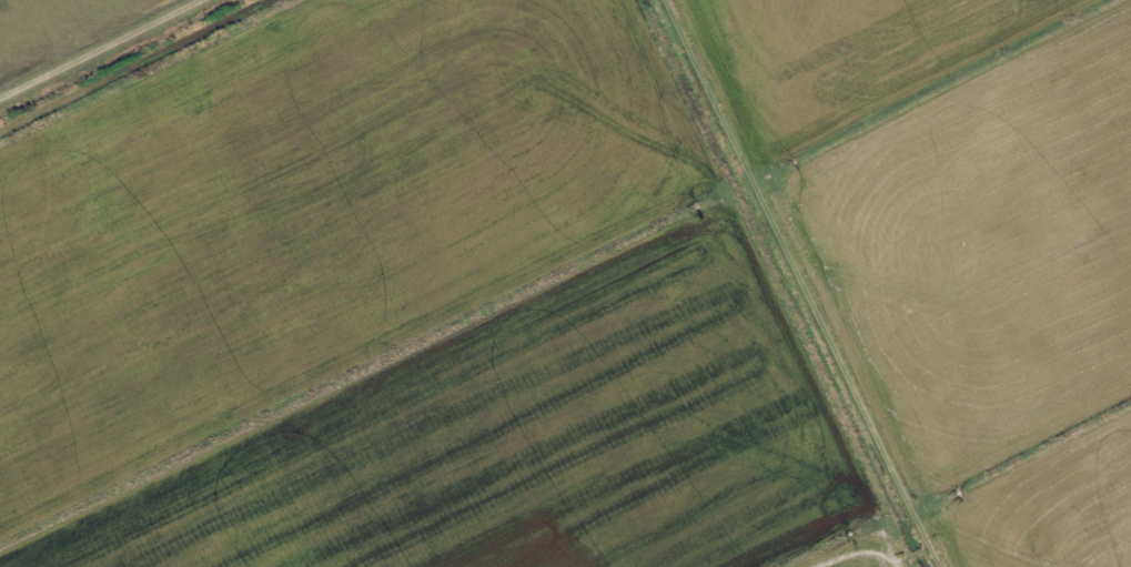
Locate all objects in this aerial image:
road: (100, 49)

